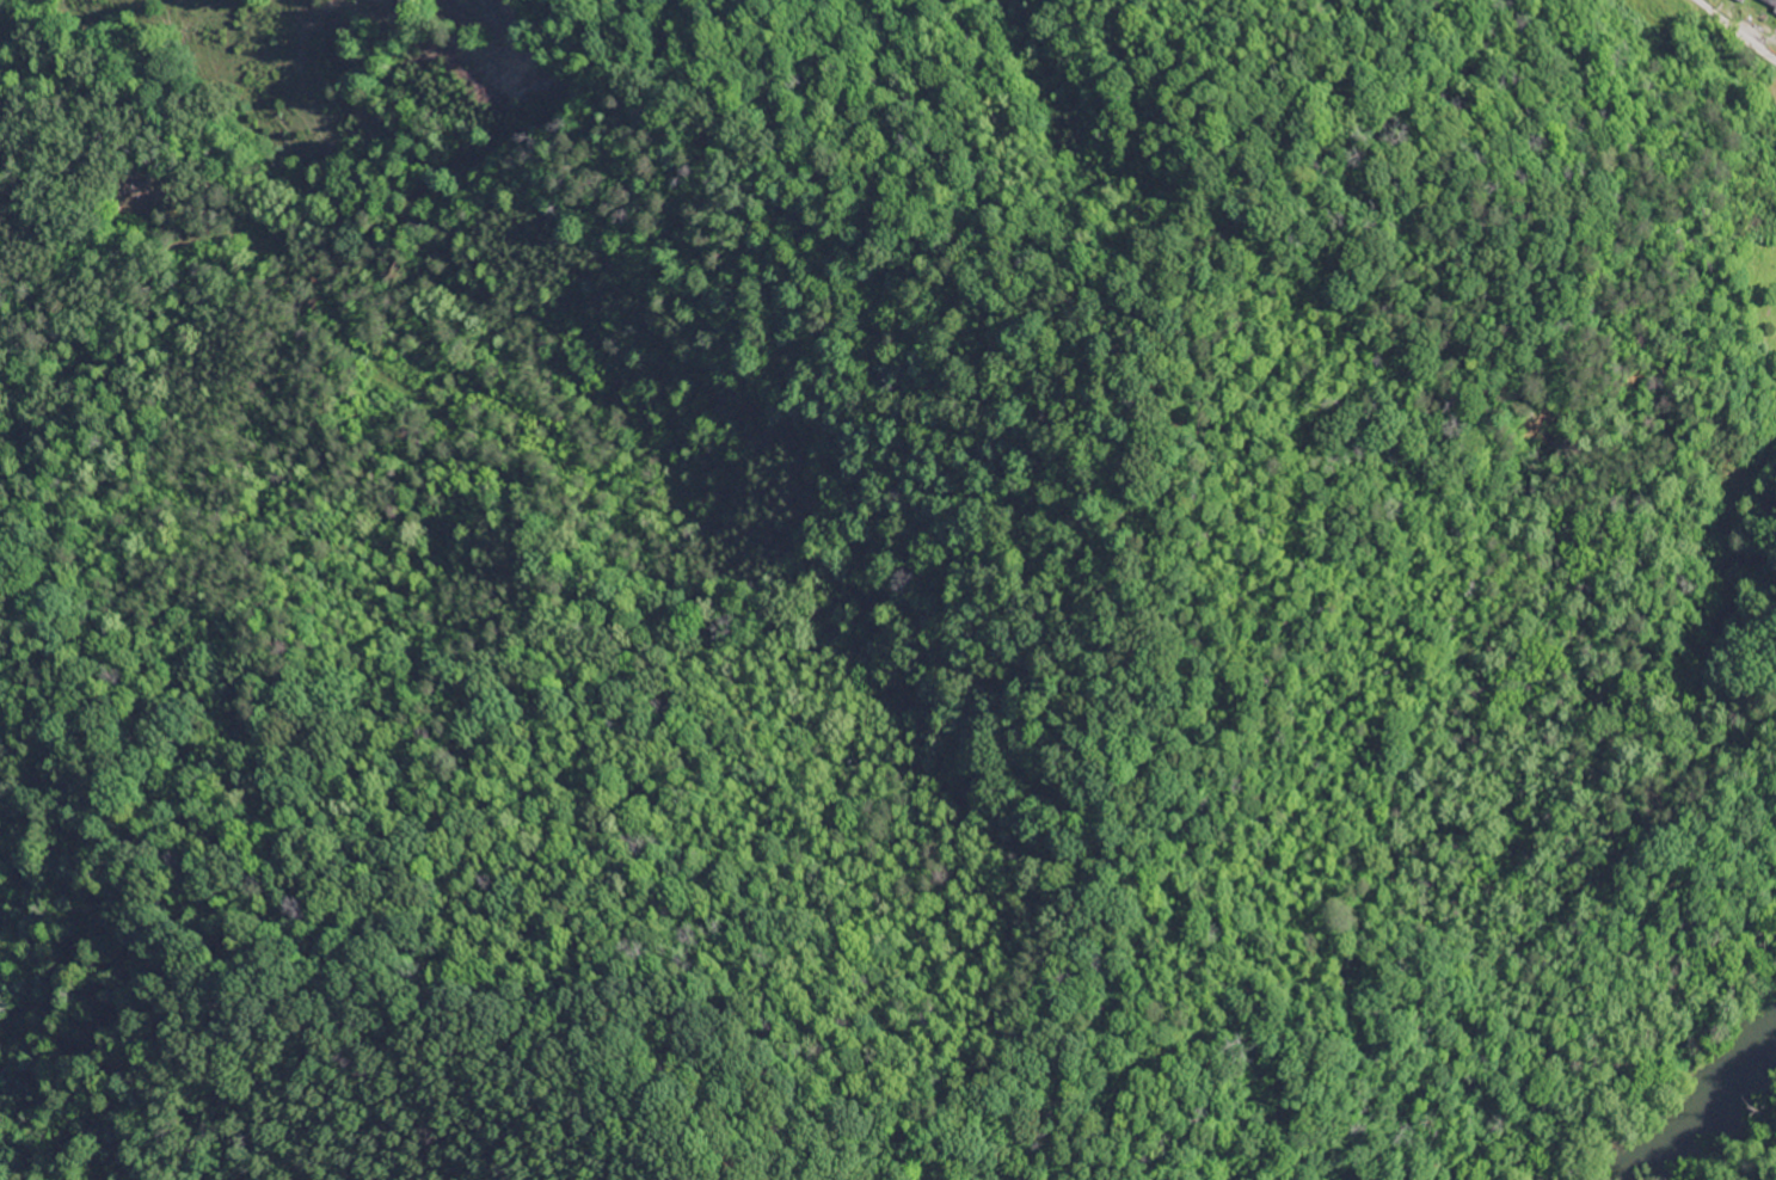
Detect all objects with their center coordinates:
building: (1769, 2)
building: (1775, 13)
road: (1712, 49)
river: (1702, 1105)

